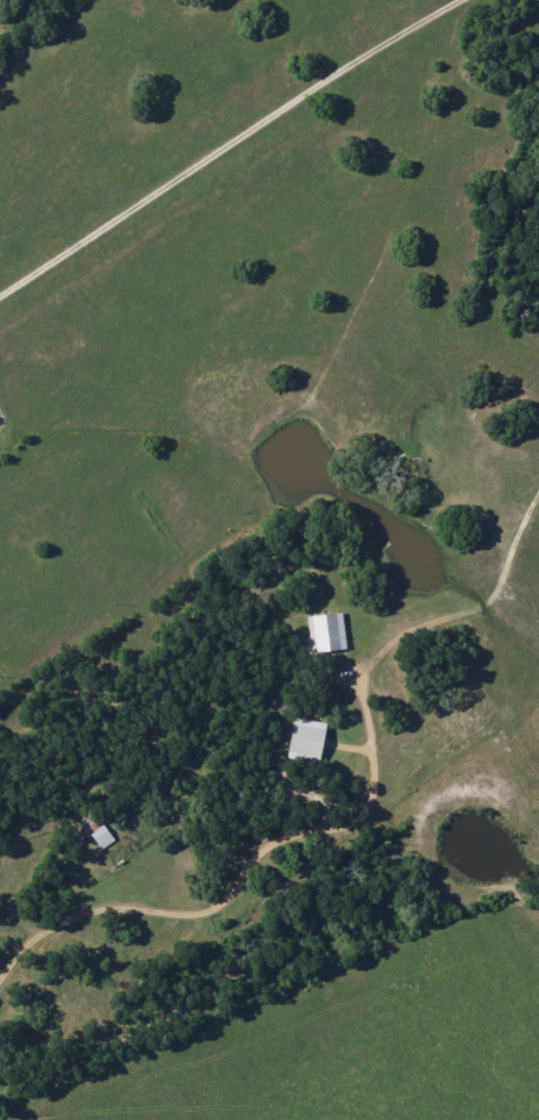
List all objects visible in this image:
building: (328, 632)
building: (307, 741)
building: (102, 835)

